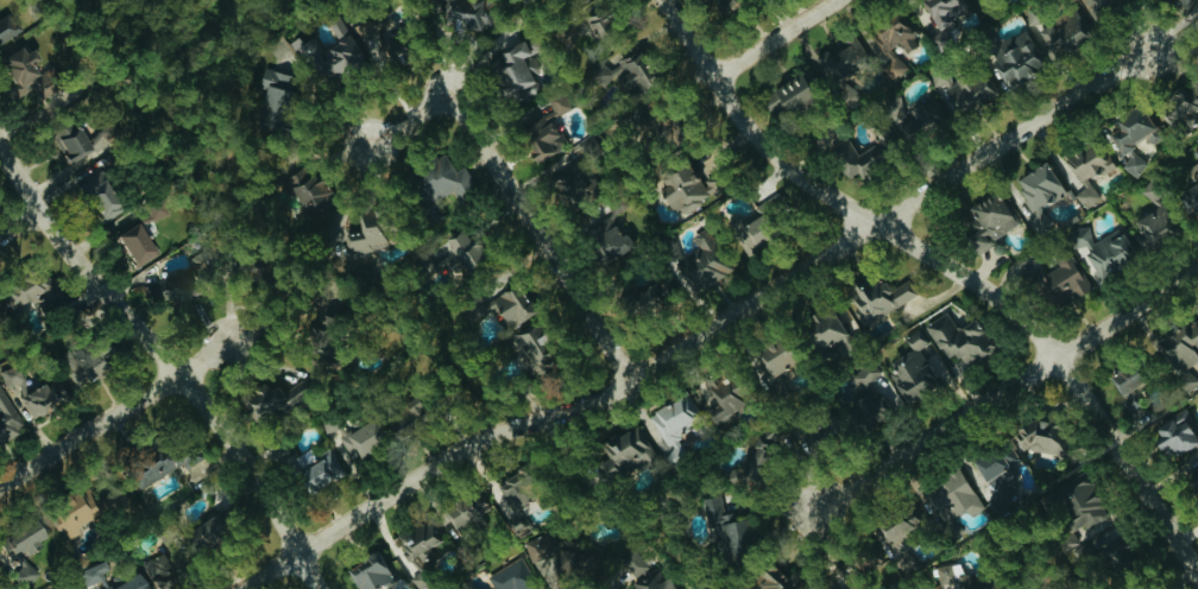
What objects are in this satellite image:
building: (721, 2)
building: (1183, 2)
building: (1098, 5)
building: (461, 13)
building: (941, 18)
building: (594, 23)
building: (1063, 32)
building: (895, 34)
building: (377, 38)
road: (771, 38)
building: (329, 51)
building: (843, 56)
building: (1017, 58)
building: (516, 68)
building: (19, 70)
building: (976, 93)
building: (788, 94)
building: (275, 96)
building: (559, 102)
building: (1180, 107)
building: (916, 114)
road: (403, 121)
building: (1129, 128)
building: (543, 141)
building: (69, 142)
building: (1196, 151)
building: (850, 154)
building: (1087, 169)
building: (443, 179)
building: (570, 182)
building: (1187, 186)
building: (683, 188)
building: (97, 198)
building: (320, 209)
building: (1041, 217)
building: (990, 220)
road: (19, 226)
building: (1153, 227)
building: (756, 233)
building: (366, 234)
road: (538, 236)
building: (610, 239)
building: (134, 245)
building: (1103, 249)
building: (453, 253)
building: (700, 264)
road: (948, 270)
building: (1060, 280)
building: (20, 287)
building: (170, 289)
building: (878, 297)
building: (510, 306)
building: (1, 311)
building: (822, 330)
road: (702, 331)
building: (959, 338)
building: (531, 348)
building: (1184, 349)
building: (774, 357)
building: (83, 361)
road: (168, 363)
building: (919, 369)
building: (868, 372)
building: (1126, 379)
road: (1002, 391)
building: (42, 398)
building: (715, 399)
building: (264, 400)
building: (866, 406)
road: (113, 417)
building: (8, 418)
building: (671, 424)
building: (1175, 435)
building: (364, 437)
building: (1039, 437)
building: (624, 454)
building: (156, 464)
building: (320, 471)
building: (1001, 471)
building: (1197, 487)
building: (952, 494)
building: (515, 499)
building: (1082, 506)
building: (466, 508)
building: (72, 512)
building: (890, 522)
building: (726, 525)
building: (208, 533)
building: (21, 538)
building: (420, 540)
building: (1109, 549)
building: (598, 560)
building: (159, 565)
building: (0, 566)
building: (370, 571)
building: (947, 572)
building: (93, 574)
building: (27, 576)
building: (512, 576)
building: (769, 577)
building: (972, 582)

